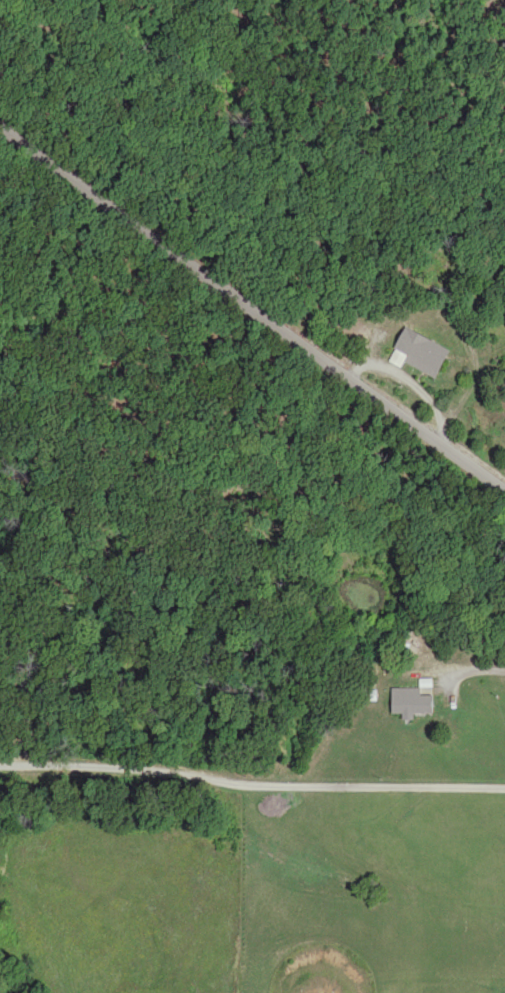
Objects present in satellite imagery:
park: (120, 159)
road: (244, 311)
building: (426, 353)
road: (473, 669)
building: (415, 700)

